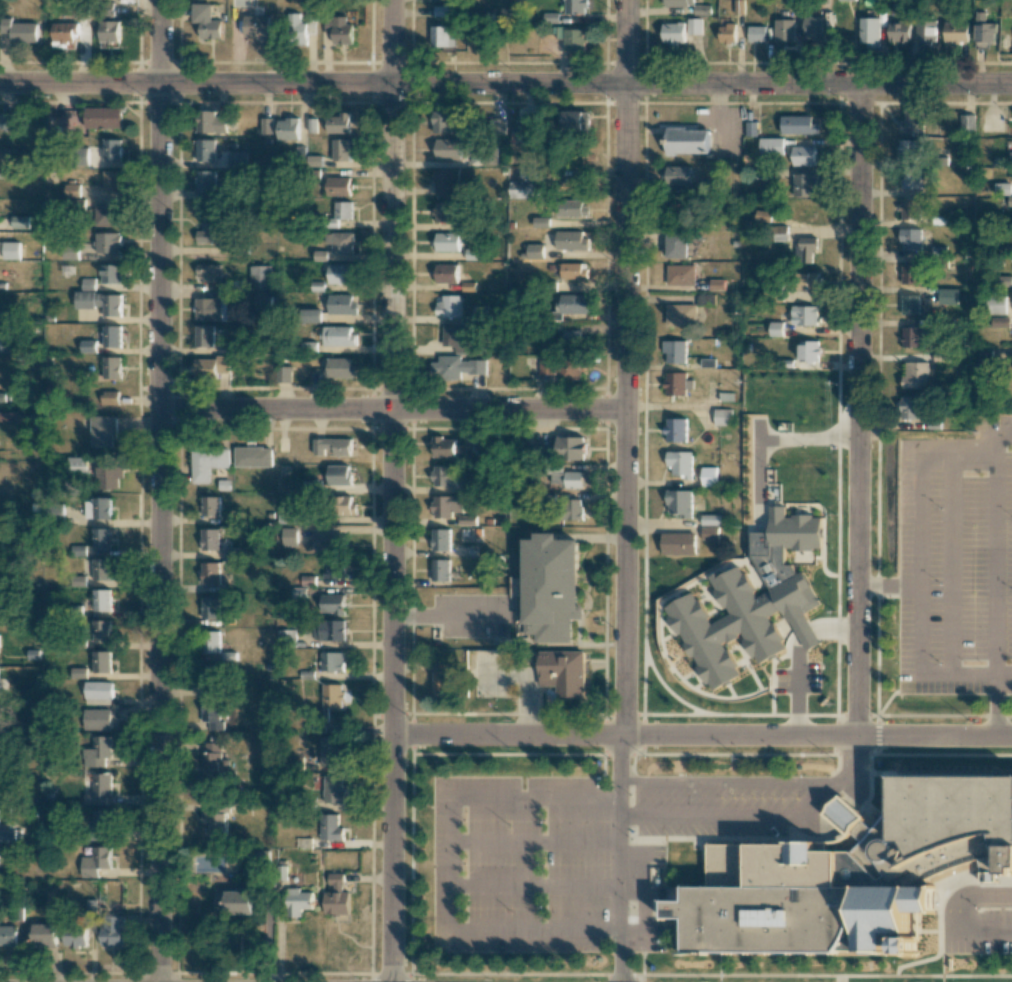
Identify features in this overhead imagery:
building: (437, 0)
building: (791, 1)
building: (678, 2)
building: (575, 6)
building: (701, 9)
building: (207, 20)
building: (303, 22)
building: (694, 26)
building: (813, 28)
building: (983, 28)
building: (339, 29)
building: (784, 29)
building: (20, 30)
building: (925, 30)
building: (108, 31)
building: (868, 31)
building: (898, 31)
building: (673, 32)
building: (955, 32)
building: (727, 33)
building: (756, 33)
building: (63, 35)
building: (442, 36)
building: (573, 38)
road: (505, 85)
building: (103, 117)
building: (574, 119)
building: (210, 121)
building: (442, 121)
building: (911, 122)
building: (339, 123)
building: (966, 123)
building: (798, 124)
building: (266, 125)
building: (288, 128)
building: (525, 130)
building: (687, 140)
building: (771, 145)
building: (112, 149)
building: (342, 149)
building: (447, 149)
building: (206, 150)
building: (909, 150)
building: (803, 155)
building: (7, 156)
building: (1010, 158)
building: (532, 173)
building: (679, 175)
building: (910, 178)
building: (112, 180)
building: (205, 181)
building: (446, 182)
building: (804, 184)
building: (338, 186)
building: (1003, 188)
building: (521, 189)
building: (72, 190)
building: (1009, 200)
building: (571, 208)
building: (910, 208)
building: (343, 210)
building: (444, 211)
building: (106, 214)
building: (20, 221)
building: (212, 230)
building: (781, 233)
building: (910, 239)
building: (571, 240)
building: (447, 241)
building: (107, 242)
building: (340, 242)
building: (676, 244)
building: (805, 249)
building: (11, 250)
building: (534, 250)
building: (70, 253)
building: (572, 270)
building: (111, 273)
building: (207, 273)
building: (340, 273)
building: (446, 273)
building: (910, 273)
building: (680, 274)
building: (809, 281)
building: (88, 283)
building: (716, 284)
building: (947, 296)
building: (100, 302)
building: (261, 302)
building: (572, 303)
building: (341, 304)
building: (910, 304)
building: (997, 304)
building: (449, 305)
building: (212, 308)
building: (680, 314)
building: (311, 315)
building: (805, 315)
building: (1000, 322)
building: (775, 328)
building: (204, 335)
building: (112, 336)
building: (338, 336)
building: (459, 336)
building: (912, 336)
building: (572, 337)
building: (88, 346)
building: (809, 350)
building: (674, 351)
building: (561, 366)
building: (112, 367)
building: (340, 367)
building: (456, 367)
road: (625, 367)
building: (213, 368)
building: (283, 373)
building: (915, 374)
building: (676, 383)
building: (2, 397)
building: (109, 397)
building: (909, 407)
road: (858, 410)
road: (393, 413)
building: (15, 417)
building: (722, 417)
building: (675, 429)
building: (102, 430)
road: (769, 439)
road: (992, 441)
building: (332, 446)
building: (444, 447)
building: (570, 447)
building: (465, 451)
building: (253, 456)
building: (207, 461)
building: (679, 463)
building: (77, 466)
building: (339, 475)
building: (444, 475)
building: (708, 476)
building: (108, 477)
building: (567, 478)
road: (160, 490)
road: (393, 491)
building: (679, 503)
building: (344, 504)
building: (210, 505)
building: (446, 505)
road: (919, 505)
building: (97, 508)
building: (573, 509)
road: (949, 515)
building: (286, 516)
building: (709, 519)
building: (708, 533)
building: (3, 534)
building: (288, 536)
road: (992, 537)
building: (101, 538)
building: (210, 539)
building: (440, 539)
building: (328, 542)
building: (677, 543)
parking lot: (954, 563)
building: (101, 569)
building: (333, 569)
building: (440, 569)
building: (210, 572)
building: (5, 577)
road: (887, 584)
building: (551, 588)
building: (101, 599)
building: (752, 602)
building: (332, 604)
building: (210, 607)
parking lot: (470, 617)
building: (101, 630)
building: (328, 630)
building: (284, 637)
building: (211, 642)
road: (948, 644)
road: (994, 645)
building: (101, 661)
building: (331, 661)
building: (564, 671)
building: (78, 672)
road: (920, 673)
parking lot: (492, 675)
building: (211, 678)
building: (443, 678)
building: (98, 689)
building: (333, 696)
road: (995, 705)
building: (211, 714)
building: (96, 719)
road: (701, 736)
building: (98, 751)
building: (329, 751)
building: (212, 761)
road: (621, 763)
road: (852, 776)
road: (717, 782)
building: (101, 783)
building: (331, 788)
road: (535, 797)
building: (97, 799)
road: (728, 815)
building: (101, 820)
building: (216, 824)
building: (940, 826)
building: (330, 827)
building: (8, 834)
road: (535, 841)
road: (451, 842)
parking lot: (595, 852)
building: (95, 861)
road: (967, 892)
road: (646, 894)
road: (451, 896)
building: (336, 897)
building: (297, 901)
building: (233, 902)
building: (768, 915)
parking lot: (978, 920)
building: (111, 930)
road: (983, 934)
building: (42, 935)
building: (8, 936)
building: (74, 936)

